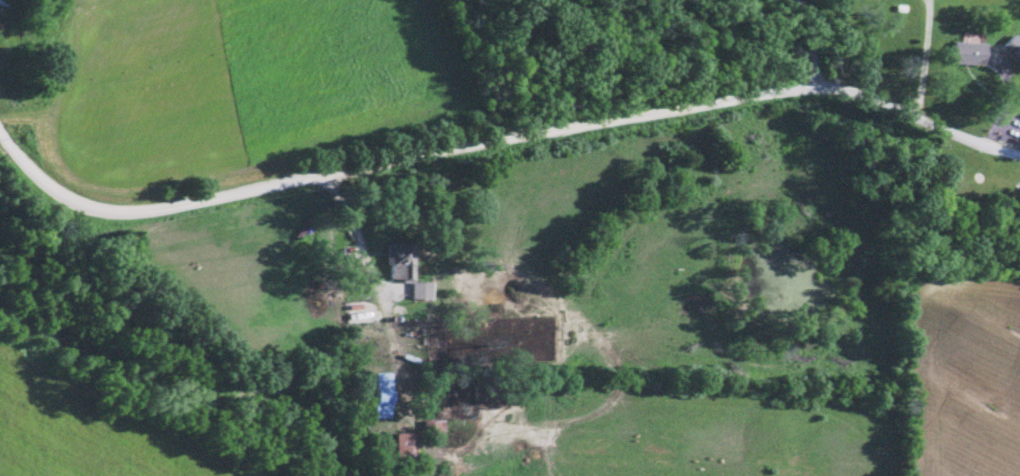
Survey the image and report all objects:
building: (1012, 47)
building: (967, 52)
road: (922, 58)
road: (502, 142)
building: (400, 260)
building: (420, 290)
building: (380, 395)
building: (405, 446)

